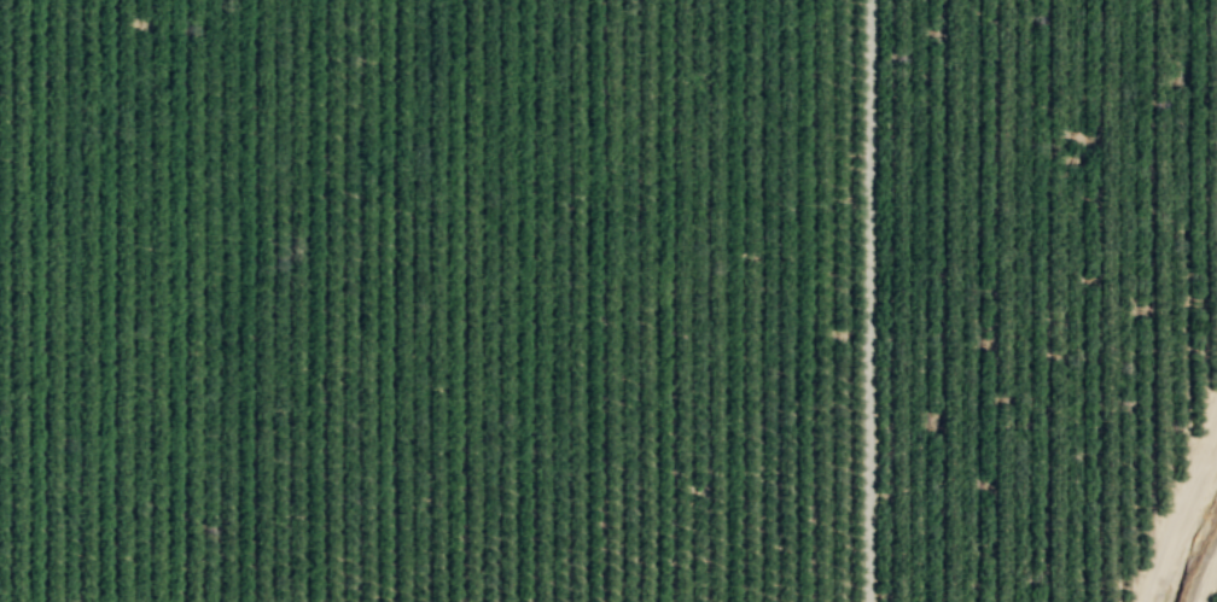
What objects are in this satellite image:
road: (867, 300)
road: (1177, 505)
road: (1206, 579)

